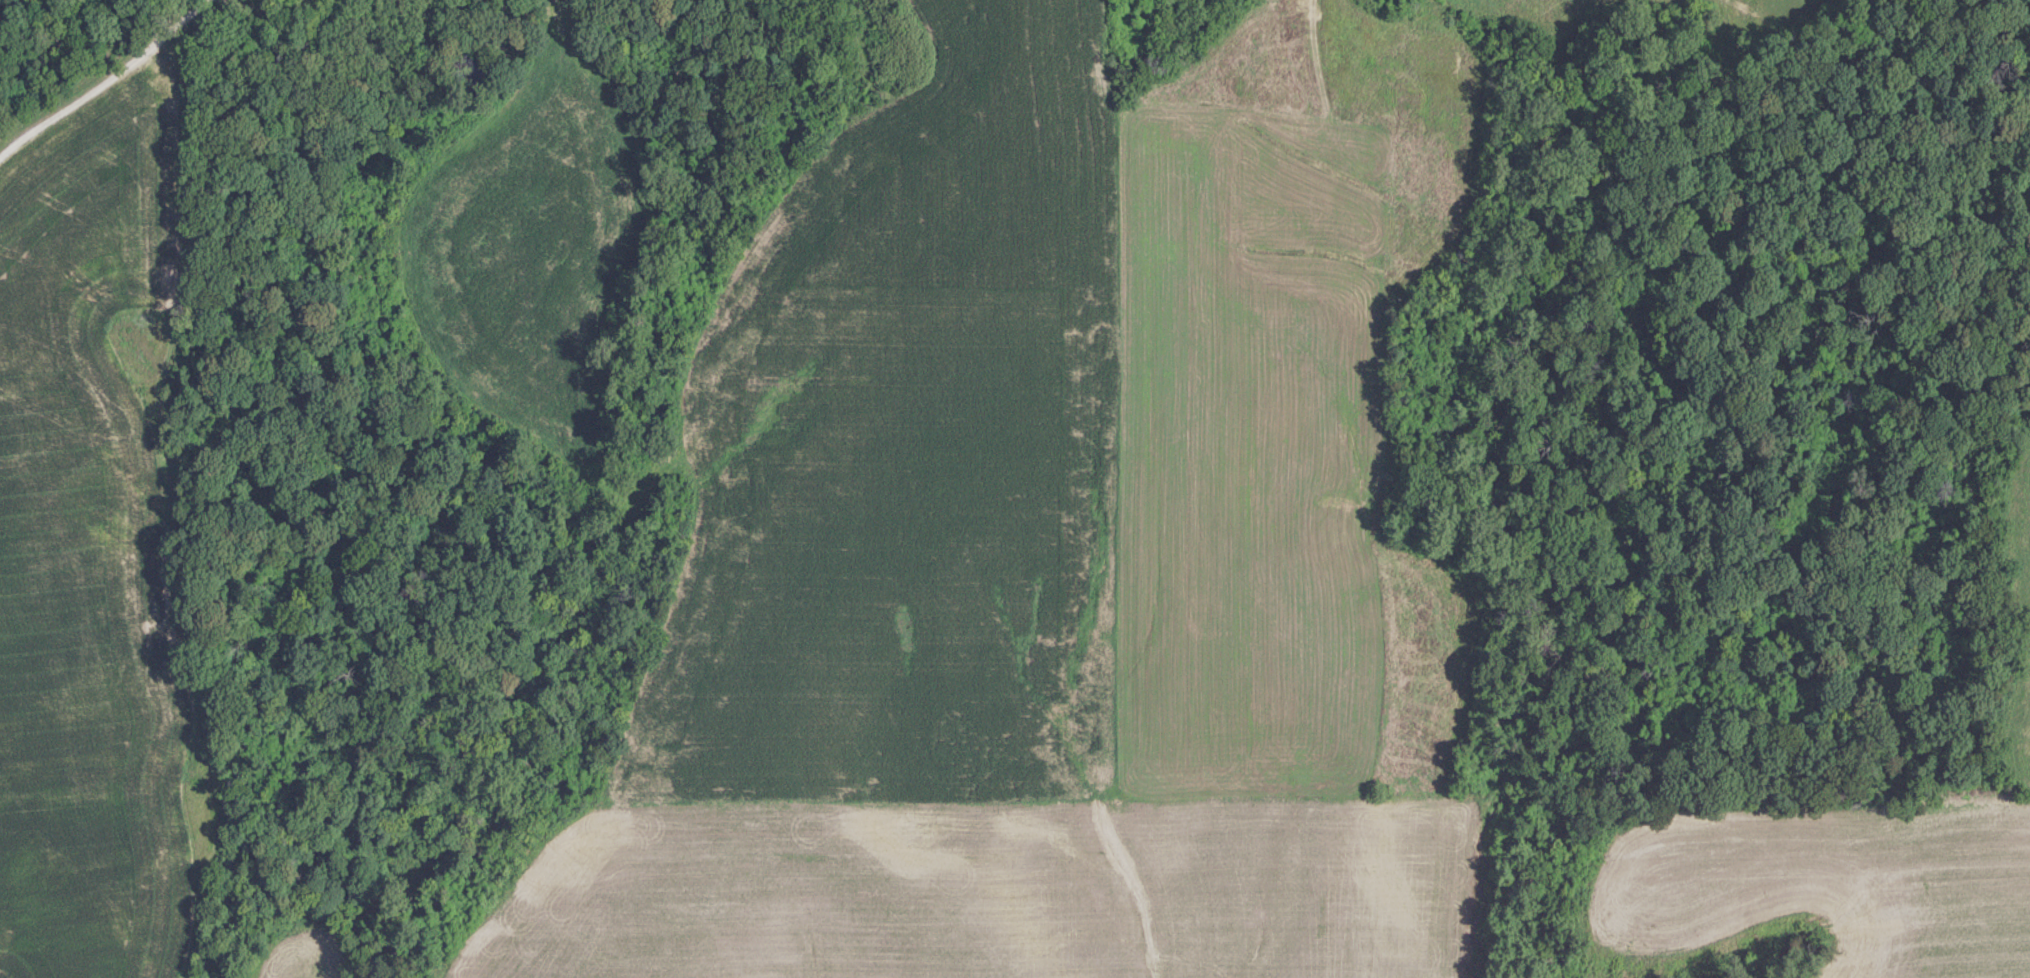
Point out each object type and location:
road: (101, 80)

